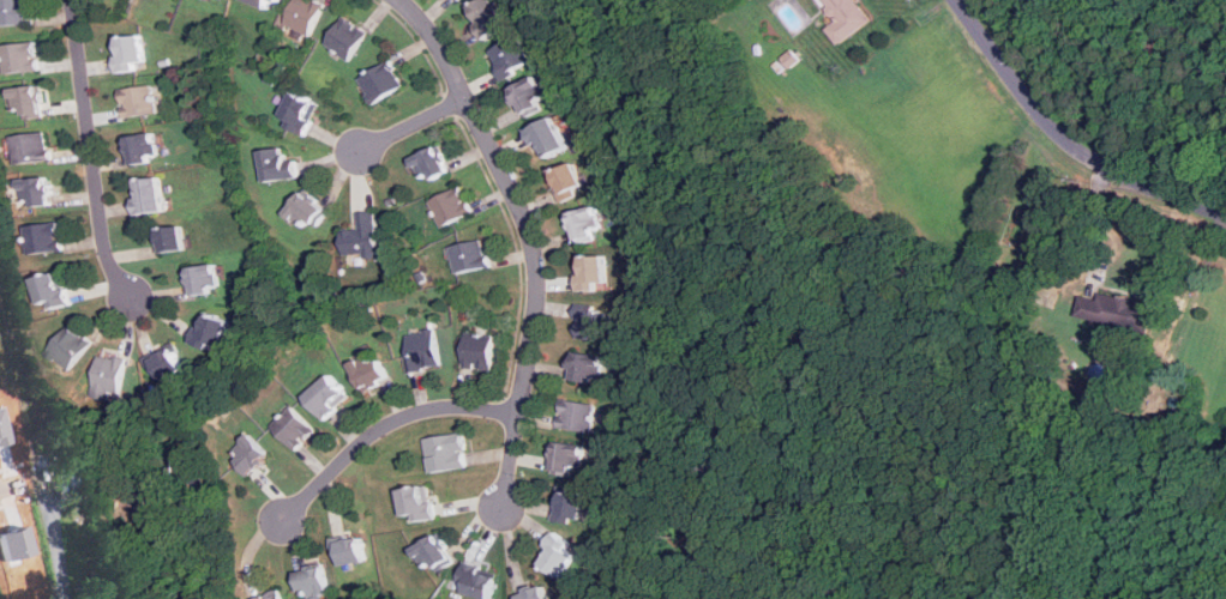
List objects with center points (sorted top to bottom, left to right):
building: (461, 0)
building: (266, 2)
building: (14, 12)
building: (305, 16)
building: (489, 17)
building: (847, 18)
building: (347, 38)
building: (130, 53)
building: (512, 56)
building: (22, 58)
building: (381, 81)
building: (534, 96)
building: (29, 101)
building: (138, 101)
building: (301, 111)
road: (414, 125)
building: (552, 139)
road: (1064, 141)
building: (30, 147)
building: (146, 149)
road: (90, 152)
building: (432, 164)
building: (280, 165)
building: (570, 180)
building: (37, 190)
building: (152, 195)
building: (452, 206)
building: (308, 210)
road: (1083, 223)
building: (588, 224)
building: (362, 237)
building: (44, 238)
road: (529, 238)
building: (174, 240)
building: (470, 256)
building: (595, 273)
building: (208, 280)
building: (54, 291)
building: (1111, 309)
building: (594, 325)
building: (214, 331)
building: (70, 347)
building: (423, 350)
building: (479, 351)
building: (167, 364)
building: (589, 367)
building: (372, 368)
building: (109, 376)
building: (330, 397)
building: (576, 415)
road: (384, 426)
building: (295, 428)
building: (449, 453)
building: (252, 455)
building: (567, 459)
road: (7, 488)
building: (420, 503)
building: (570, 506)
building: (152, 515)
road: (59, 549)
building: (355, 551)
building: (437, 553)
building: (559, 556)
building: (318, 581)
building: (479, 581)
building: (535, 593)
building: (272, 595)

